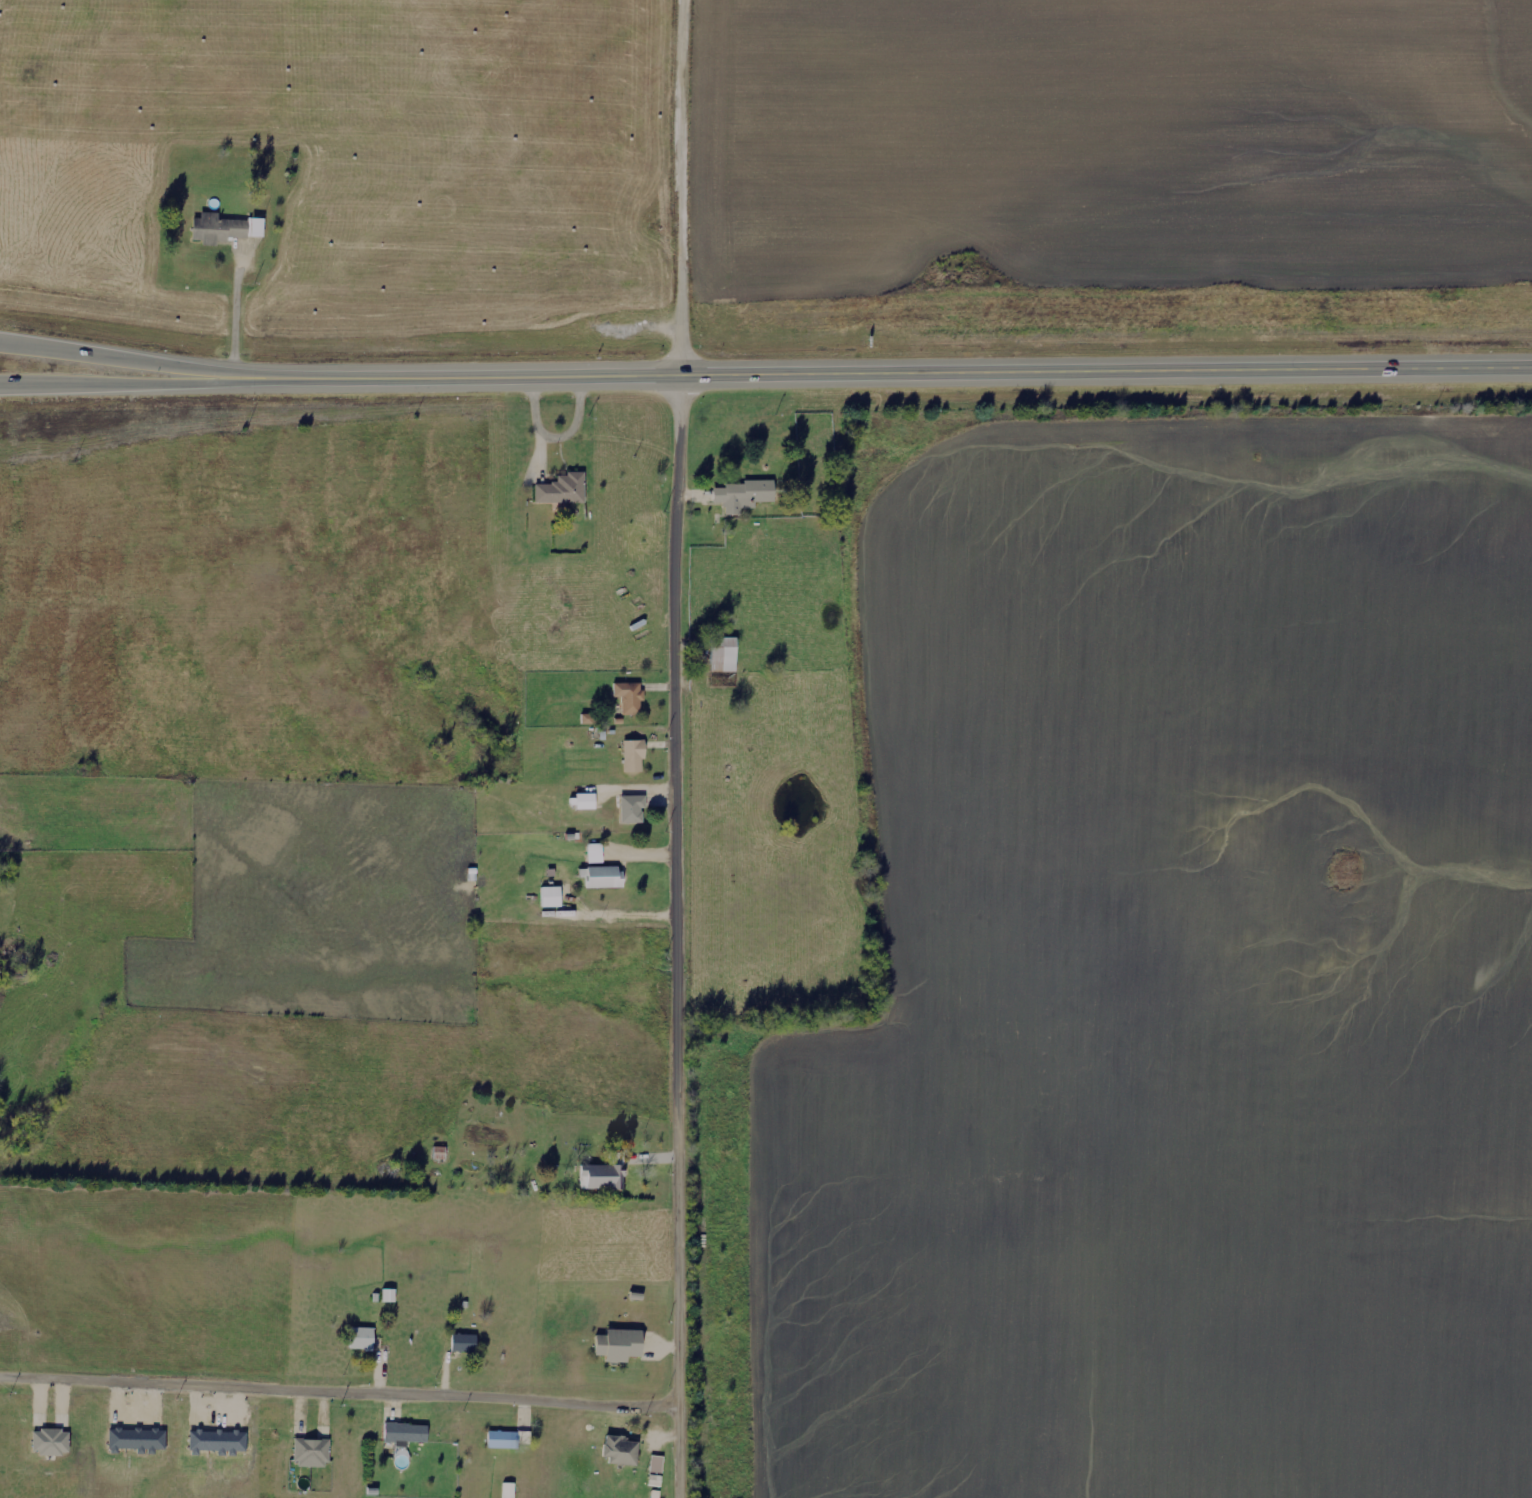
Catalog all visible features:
road: (688, 186)
building: (225, 228)
road: (123, 362)
road: (888, 369)
road: (123, 381)
building: (563, 490)
building: (744, 495)
building: (724, 654)
building: (630, 696)
building: (634, 756)
building: (583, 801)
building: (632, 809)
building: (595, 853)
building: (602, 876)
building: (551, 896)
road: (686, 934)
building: (602, 1176)
building: (389, 1295)
building: (362, 1338)
building: (464, 1343)
building: (619, 1345)
road: (344, 1364)
building: (406, 1432)
building: (138, 1439)
building: (503, 1439)
building: (218, 1441)
building: (51, 1442)
building: (621, 1450)
building: (312, 1453)
building: (657, 1464)
building: (655, 1480)
building: (509, 1490)

